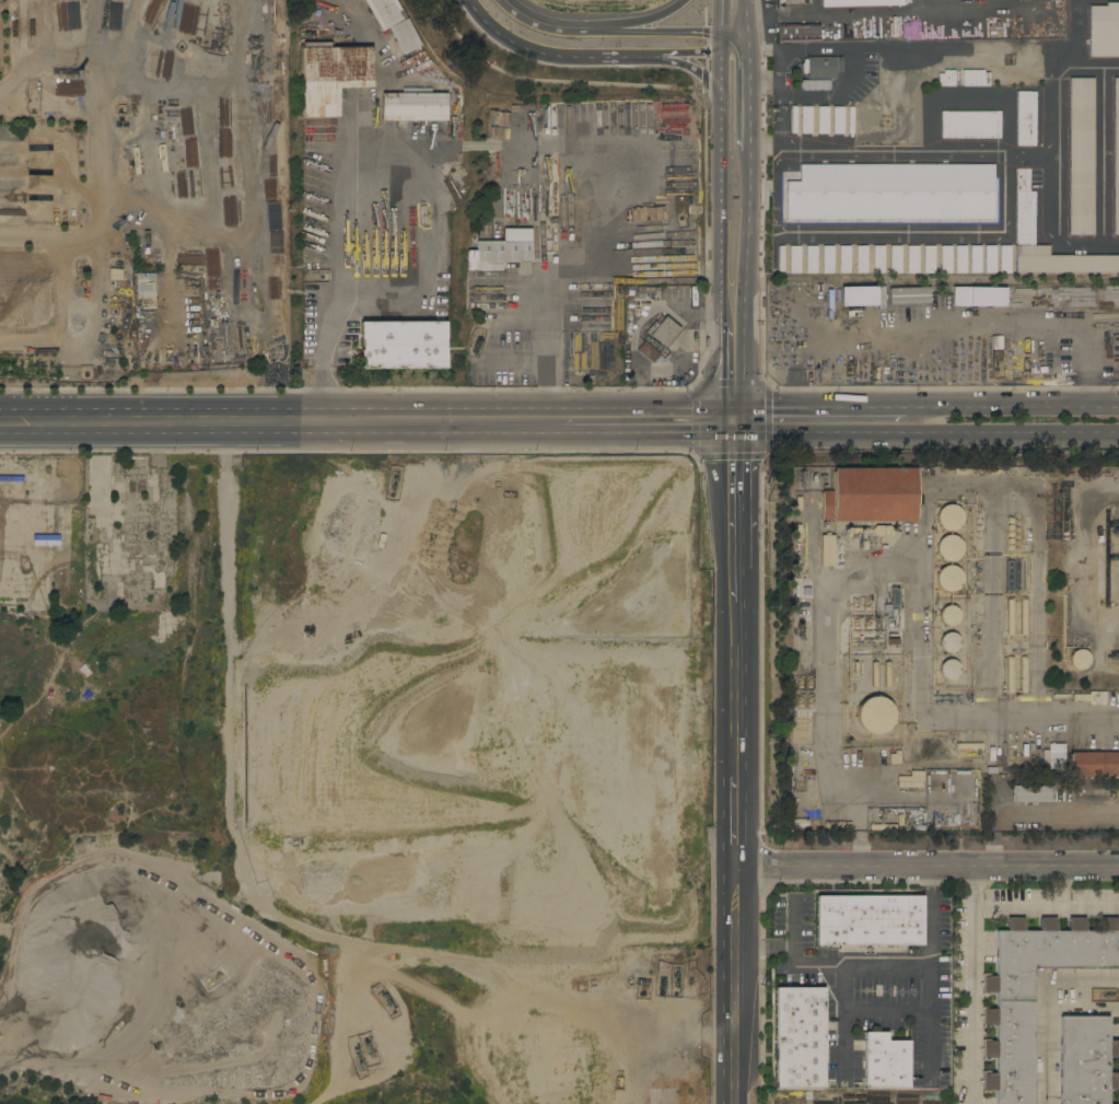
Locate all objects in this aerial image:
building: (859, 3)
road: (668, 10)
building: (384, 12)
road: (733, 16)
road: (637, 25)
road: (538, 27)
building: (1104, 31)
road: (604, 32)
road: (676, 32)
building: (799, 33)
building: (404, 36)
road: (733, 42)
road: (847, 50)
road: (558, 53)
road: (697, 53)
road: (677, 60)
building: (966, 66)
building: (819, 68)
road: (776, 70)
building: (333, 75)
road: (755, 78)
building: (946, 78)
building: (976, 78)
road: (734, 79)
building: (815, 84)
road: (713, 86)
building: (413, 106)
building: (793, 119)
building: (806, 119)
building: (1023, 119)
building: (823, 120)
building: (838, 120)
building: (851, 120)
building: (971, 125)
road: (734, 137)
road: (755, 148)
road: (969, 153)
building: (1081, 156)
building: (1116, 156)
building: (812, 191)
building: (828, 191)
building: (846, 191)
building: (879, 191)
building: (897, 191)
building: (929, 191)
building: (989, 191)
building: (796, 193)
building: (863, 193)
building: (913, 193)
building: (944, 193)
building: (959, 193)
building: (974, 193)
building: (1023, 206)
building: (692, 213)
road: (128, 225)
road: (330, 229)
road: (733, 239)
building: (501, 252)
building: (781, 259)
building: (795, 259)
building: (811, 259)
building: (828, 259)
building: (846, 259)
building: (862, 259)
building: (879, 259)
building: (896, 259)
building: (913, 259)
building: (930, 259)
building: (946, 259)
building: (961, 259)
building: (976, 259)
building: (991, 259)
building: (1005, 259)
building: (1061, 262)
building: (144, 286)
building: (648, 292)
building: (859, 295)
building: (909, 295)
building: (979, 297)
road: (733, 319)
building: (628, 321)
road: (1050, 325)
building: (663, 330)
building: (403, 345)
building: (1112, 350)
building: (649, 352)
road: (681, 355)
building: (1114, 357)
building: (610, 359)
building: (575, 368)
road: (733, 370)
road: (547, 375)
road: (143, 410)
road: (510, 410)
traffic signals: (733, 410)
road: (818, 410)
road: (1011, 410)
road: (733, 423)
road: (279, 438)
road: (645, 438)
traffic signals: (733, 438)
road: (925, 439)
building: (966, 472)
petroleum well: (394, 478)
road: (983, 485)
building: (870, 495)
road: (734, 502)
building: (948, 518)
storage tank: (948, 518)
petroleum well: (1116, 523)
petroleum well: (1117, 530)
building: (871, 531)
building: (949, 548)
storage tank: (949, 548)
building: (827, 550)
petroleum well: (1116, 558)
building: (1011, 576)
building: (1023, 576)
building: (948, 578)
storage tank: (948, 578)
road: (735, 593)
road: (990, 603)
building: (948, 616)
storage tank: (948, 616)
building: (1011, 617)
building: (1024, 617)
petroleum well: (800, 628)
building: (948, 643)
storage tank: (948, 643)
petroleum well: (1118, 655)
building: (1081, 660)
storage tank: (1081, 660)
building: (949, 669)
storage tank: (949, 669)
building: (886, 674)
building: (1023, 674)
building: (875, 675)
building: (1010, 675)
road: (736, 692)
building: (875, 716)
storage tank: (875, 716)
road: (1023, 721)
road: (235, 732)
building: (1045, 757)
building: (1063, 757)
building: (1095, 765)
building: (1033, 794)
road: (737, 815)
road: (928, 865)
road: (1060, 888)
road: (1042, 911)
building: (869, 920)
road: (766, 949)
road: (832, 967)
road: (930, 972)
road: (736, 985)
road: (967, 985)
petroleum well: (665, 998)
petroleum well: (386, 1001)
road: (1047, 1011)
building: (1009, 1016)
road: (844, 1018)
building: (800, 1038)
petroleum well: (368, 1047)
petroleum well: (358, 1056)
building: (1086, 1060)
building: (886, 1062)

